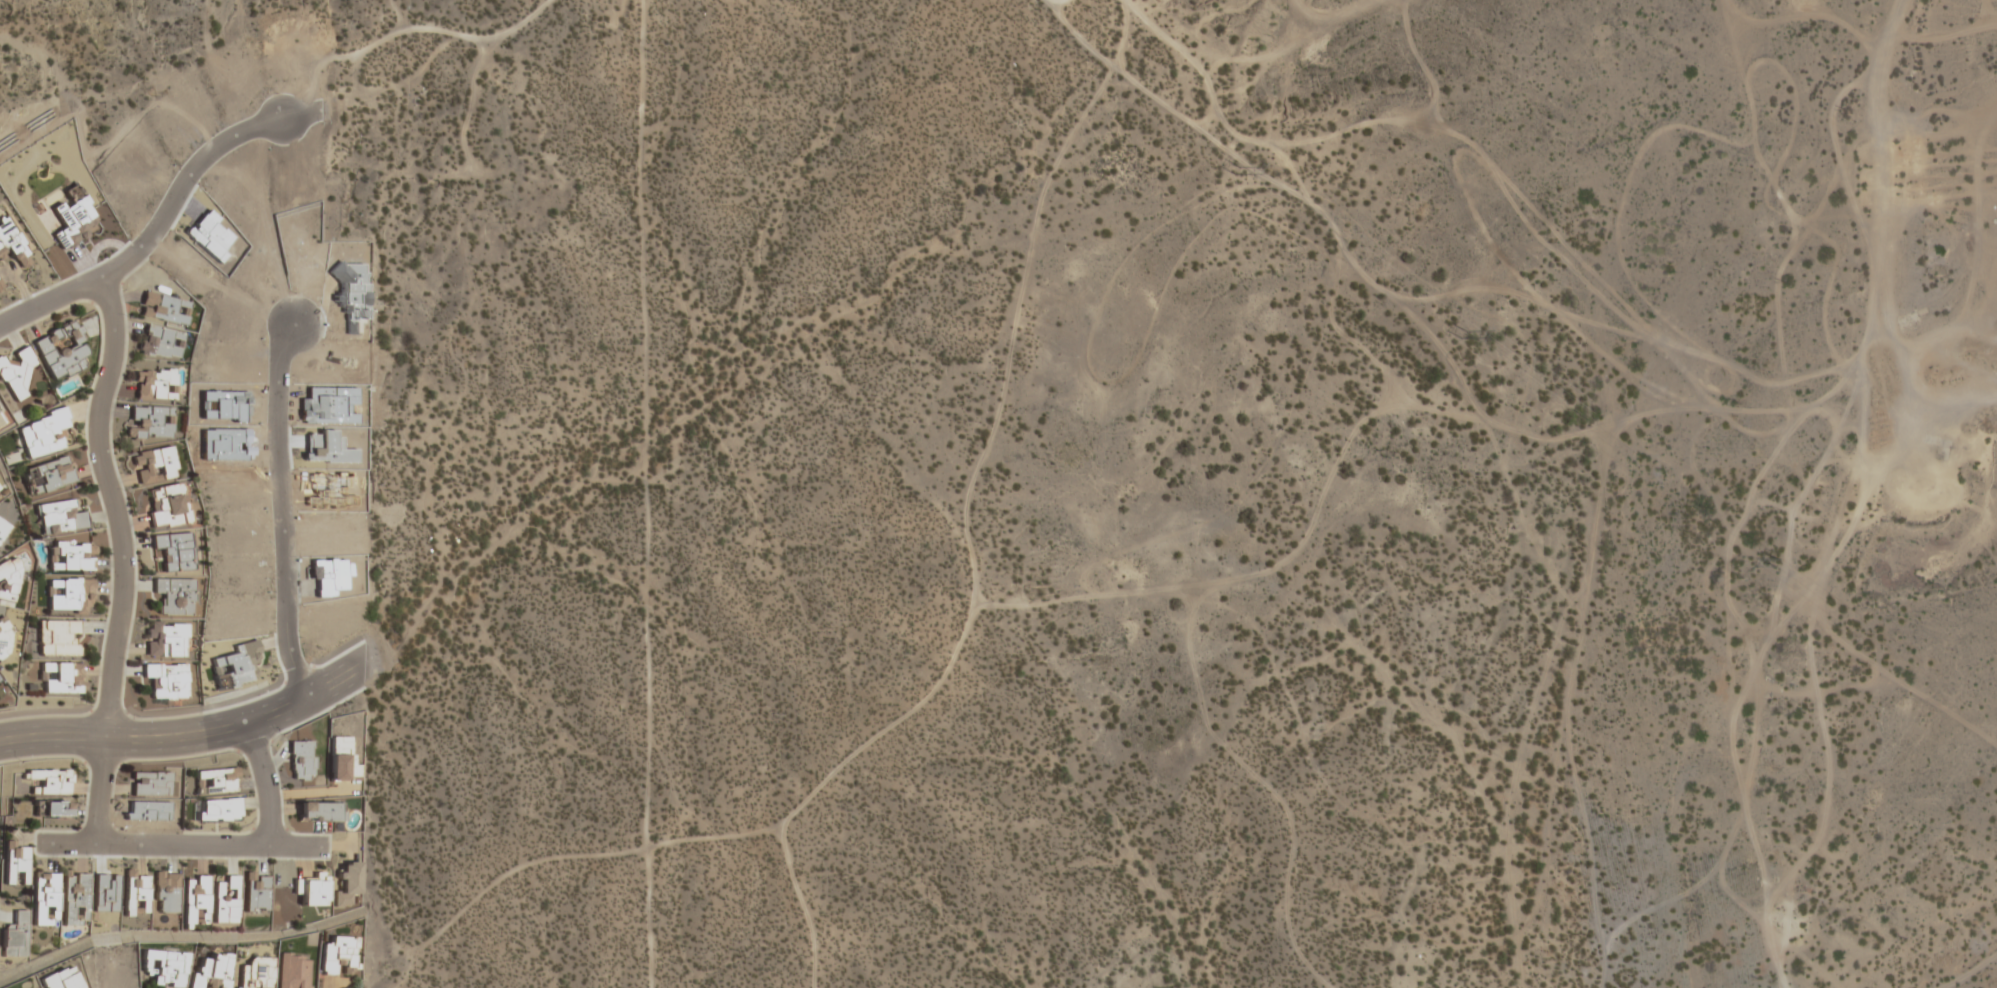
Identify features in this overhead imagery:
road: (1058, 0)
road: (1357, 4)
road: (438, 31)
road: (1106, 75)
power tower: (1236, 170)
road: (202, 178)
road: (1861, 233)
building: (14, 246)
building: (0, 285)
road: (71, 296)
building: (164, 309)
power tower: (1463, 334)
building: (160, 342)
building: (61, 351)
building: (15, 375)
building: (155, 384)
road: (1494, 421)
building: (150, 422)
building: (42, 434)
building: (154, 465)
building: (47, 476)
building: (0, 487)
road: (643, 494)
building: (168, 506)
building: (59, 517)
road: (295, 518)
building: (3, 529)
road: (967, 547)
building: (174, 551)
building: (70, 556)
road: (123, 560)
power tower: (1779, 563)
building: (9, 579)
building: (68, 594)
building: (175, 596)
building: (57, 638)
building: (166, 639)
building: (5, 642)
building: (62, 678)
building: (167, 680)
road: (312, 703)
road: (1567, 712)
road: (127, 740)
building: (341, 760)
building: (302, 761)
building: (215, 781)
building: (50, 782)
building: (150, 785)
road: (268, 788)
building: (50, 809)
building: (216, 811)
building: (319, 812)
road: (181, 845)
road: (577, 854)
road: (1288, 856)
building: (15, 865)
building: (348, 878)
building: (311, 891)
building: (165, 894)
building: (256, 894)
building: (136, 895)
building: (44, 900)
building: (75, 900)
building: (225, 901)
building: (195, 902)
building: (336, 954)
building: (162, 968)
building: (210, 971)
building: (254, 973)
building: (60, 979)

